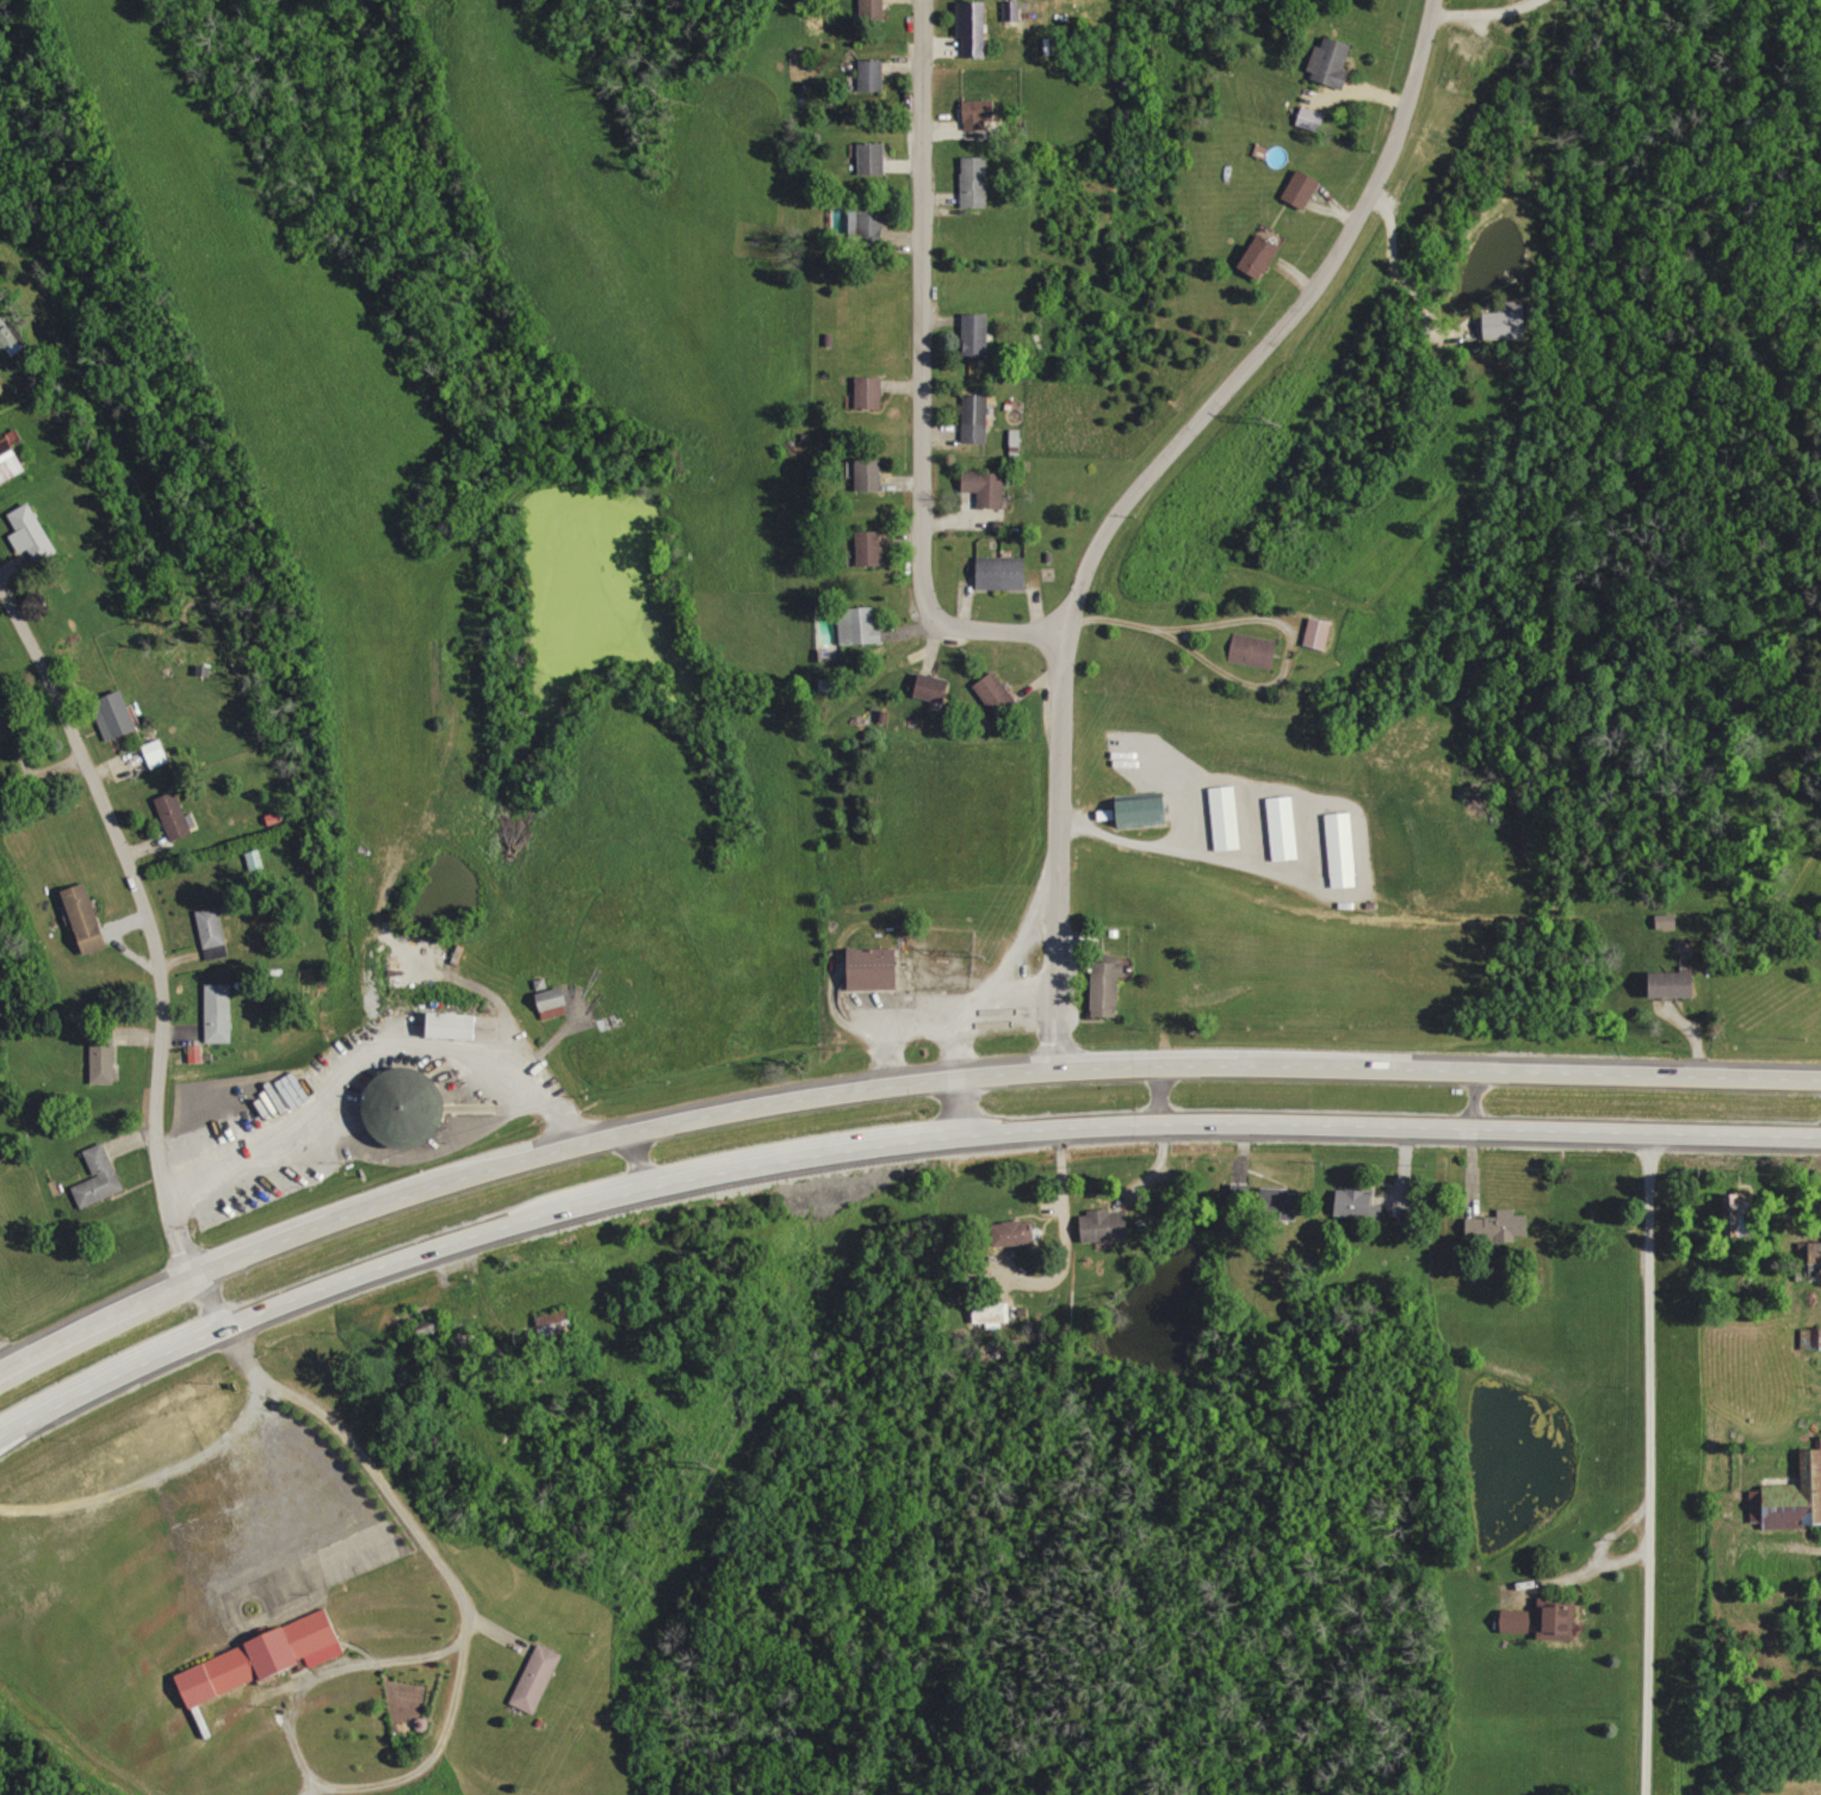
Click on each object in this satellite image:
building: (875, 7)
road: (1480, 10)
building: (974, 27)
building: (1334, 62)
building: (875, 75)
building: (981, 112)
building: (1313, 119)
building: (877, 157)
building: (977, 181)
building: (1305, 188)
building: (871, 222)
building: (1263, 255)
building: (1506, 321)
building: (978, 334)
building: (10, 336)
road: (924, 376)
building: (873, 392)
building: (978, 417)
building: (12, 466)
road: (1162, 470)
building: (873, 475)
building: (989, 488)
building: (36, 532)
building: (873, 547)
building: (1004, 572)
road: (1195, 624)
building: (861, 626)
building: (1323, 633)
building: (1256, 650)
building: (935, 687)
building: (998, 694)
building: (117, 716)
building: (8, 726)
building: (157, 754)
building: (1142, 810)
building: (175, 816)
building: (1225, 817)
building: (1282, 827)
building: (1340, 844)
road: (1216, 855)
building: (87, 918)
building: (1670, 921)
building: (212, 927)
road: (161, 939)
building: (877, 968)
building: (1676, 985)
building: (1109, 986)
building: (556, 1003)
road: (935, 1003)
building: (221, 1013)
building: (456, 1026)
road: (1065, 1033)
road: (958, 1040)
building: (104, 1056)
road: (368, 1056)
road: (1221, 1063)
road: (1600, 1067)
road: (1140, 1094)
road: (1470, 1097)
road: (943, 1106)
building: (404, 1107)
storage tank: (404, 1107)
road: (1382, 1128)
road: (514, 1160)
road: (761, 1162)
road: (626, 1163)
road: (1820, 1163)
building: (100, 1178)
building: (1282, 1202)
building: (1359, 1205)
building: (1745, 1208)
building: (1107, 1226)
building: (1499, 1226)
building: (1020, 1233)
road: (405, 1263)
building: (995, 1314)
building: (556, 1323)
road: (1, 1367)
road: (112, 1375)
road: (1648, 1463)
road: (148, 1480)
road: (285, 1490)
building: (1791, 1499)
road: (398, 1508)
road: (1624, 1555)
road: (1594, 1558)
fountain: (252, 1609)
building: (1560, 1620)
building: (1519, 1621)
building: (264, 1658)
building: (539, 1677)
road: (315, 1778)

